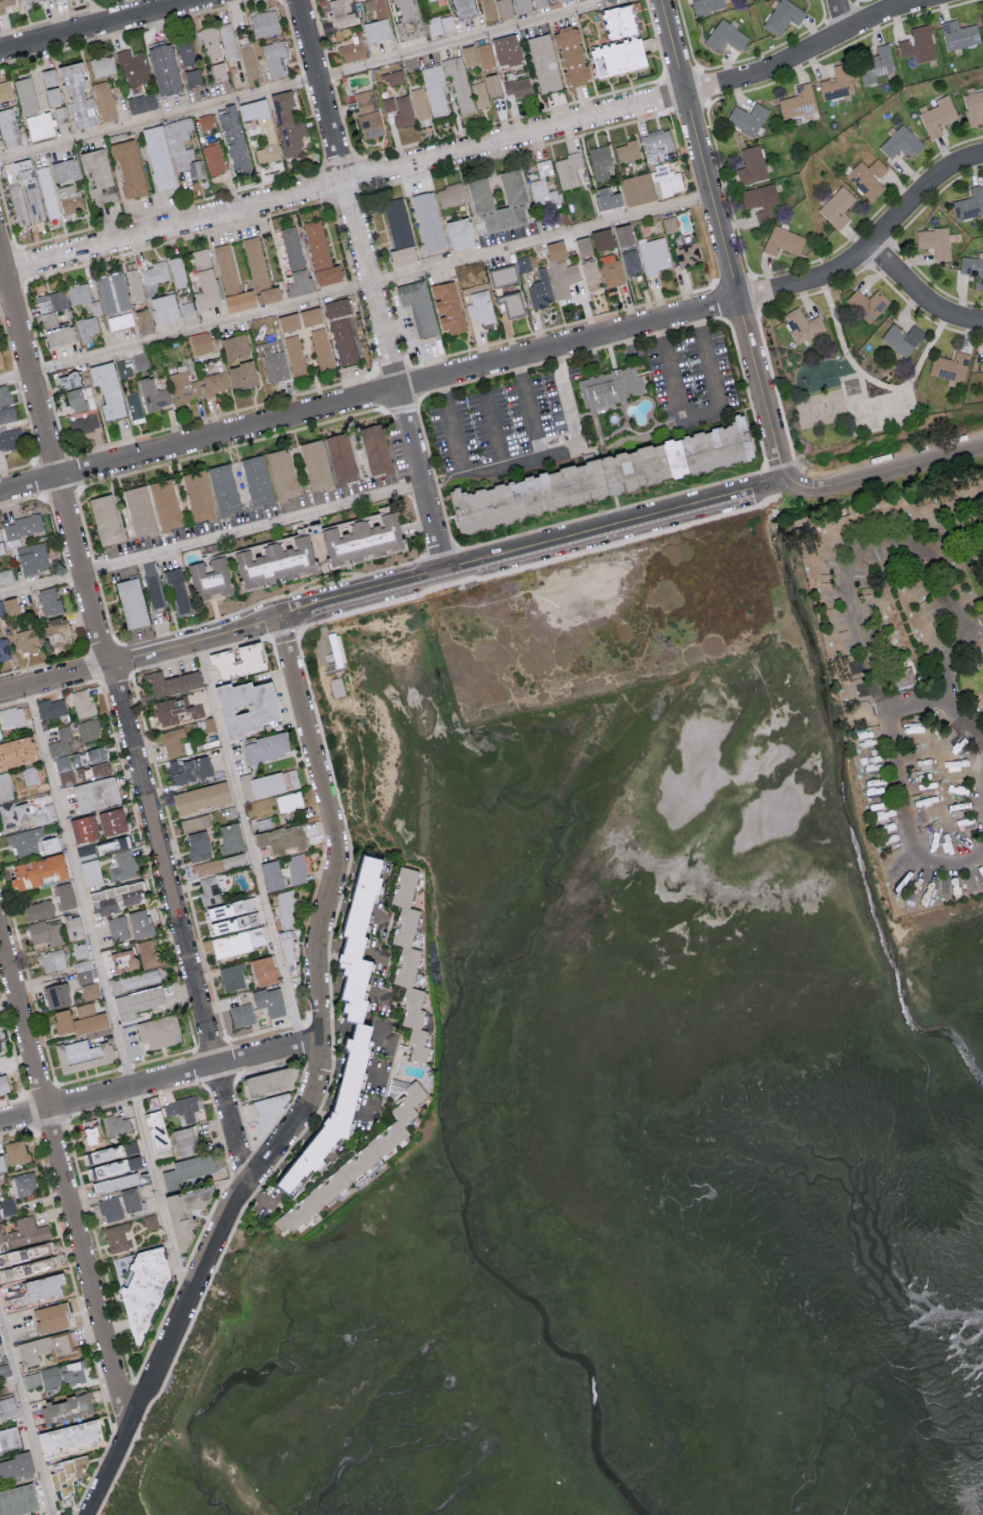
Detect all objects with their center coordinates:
building: (429, 0)
building: (558, 0)
building: (31, 2)
building: (540, 3)
building: (6, 4)
building: (519, 6)
building: (706, 6)
building: (376, 7)
building: (463, 8)
building: (488, 8)
building: (503, 9)
building: (339, 12)
road: (841, 15)
building: (784, 16)
building: (407, 19)
building: (619, 20)
building: (446, 22)
building: (264, 23)
road: (99, 25)
building: (434, 25)
building: (375, 30)
building: (959, 34)
building: (724, 36)
building: (228, 41)
building: (209, 42)
building: (918, 44)
building: (506, 50)
building: (183, 52)
building: (468, 55)
building: (620, 55)
building: (485, 56)
building: (570, 56)
building: (273, 57)
building: (543, 62)
building: (249, 63)
building: (875, 64)
building: (103, 65)
building: (598, 65)
building: (132, 67)
building: (163, 69)
building: (217, 71)
building: (394, 77)
road: (307, 81)
building: (837, 83)
building: (460, 84)
building: (492, 85)
building: (50, 87)
building: (517, 87)
building: (5, 90)
building: (435, 90)
building: (75, 93)
building: (479, 94)
building: (25, 95)
building: (105, 100)
building: (363, 101)
building: (798, 102)
building: (141, 103)
building: (420, 103)
building: (974, 107)
building: (399, 109)
building: (61, 114)
building: (938, 115)
building: (746, 118)
building: (206, 121)
building: (288, 123)
building: (368, 124)
building: (39, 126)
building: (7, 128)
building: (261, 128)
building: (233, 141)
building: (656, 142)
building: (901, 142)
building: (183, 148)
road: (471, 149)
building: (627, 151)
building: (158, 157)
building: (213, 158)
building: (599, 161)
building: (751, 165)
building: (128, 167)
building: (64, 170)
building: (568, 170)
building: (98, 175)
building: (867, 177)
building: (666, 179)
building: (542, 186)
building: (637, 189)
building: (48, 191)
building: (513, 193)
building: (25, 194)
building: (450, 194)
building: (70, 198)
building: (606, 198)
building: (760, 200)
building: (970, 203)
building: (837, 206)
building: (427, 221)
building: (669, 223)
building: (399, 232)
building: (459, 233)
building: (623, 235)
building: (601, 239)
road: (722, 239)
building: (783, 241)
building: (935, 241)
building: (582, 245)
building: (320, 254)
building: (687, 254)
building: (654, 255)
building: (295, 261)
building: (631, 262)
building: (523, 263)
building: (973, 269)
building: (561, 270)
building: (611, 270)
building: (177, 271)
building: (155, 272)
building: (259, 272)
building: (502, 275)
building: (590, 275)
building: (204, 279)
building: (231, 280)
road: (370, 283)
building: (134, 285)
road: (355, 288)
building: (541, 289)
building: (113, 292)
building: (78, 293)
road: (920, 297)
building: (509, 303)
building: (867, 304)
building: (417, 307)
building: (447, 307)
building: (480, 307)
building: (164, 308)
road: (834, 315)
building: (310, 316)
building: (53, 318)
building: (120, 321)
building: (143, 321)
building: (288, 322)
building: (802, 325)
building: (86, 328)
building: (341, 329)
building: (902, 338)
building: (200, 343)
building: (234, 346)
road: (928, 347)
building: (321, 348)
building: (295, 354)
building: (273, 360)
road: (510, 360)
building: (140, 361)
building: (950, 366)
building: (123, 369)
building: (241, 375)
parking lot: (691, 376)
building: (978, 377)
building: (68, 380)
road: (873, 380)
building: (213, 383)
building: (850, 383)
building: (183, 387)
building: (610, 387)
building: (107, 389)
building: (4, 395)
building: (153, 395)
building: (72, 397)
park: (846, 397)
building: (134, 405)
park: (885, 410)
building: (7, 414)
road: (702, 415)
building: (84, 423)
parking lot: (508, 427)
road: (494, 429)
building: (10, 439)
building: (374, 449)
road: (559, 452)
building: (341, 458)
building: (314, 465)
road: (463, 466)
road: (884, 470)
building: (282, 474)
building: (599, 476)
building: (256, 480)
building: (223, 489)
building: (198, 496)
building: (138, 511)
building: (104, 519)
building: (21, 528)
road: (952, 532)
road: (212, 539)
building: (360, 540)
road: (533, 544)
building: (1, 546)
building: (32, 558)
building: (273, 562)
building: (6, 576)
building: (209, 579)
building: (151, 584)
road: (843, 585)
building: (176, 590)
road: (951, 590)
building: (49, 602)
building: (130, 603)
building: (8, 606)
building: (57, 632)
building: (26, 641)
road: (947, 648)
building: (4, 649)
road: (140, 656)
building: (237, 661)
building: (903, 677)
building: (171, 682)
road: (908, 698)
building: (82, 703)
building: (50, 707)
building: (244, 707)
building: (175, 710)
building: (11, 716)
road: (123, 719)
road: (954, 722)
building: (207, 724)
building: (88, 729)
building: (0, 735)
building: (172, 740)
building: (61, 741)
building: (264, 747)
building: (16, 750)
building: (85, 761)
building: (189, 768)
building: (29, 775)
building: (66, 778)
building: (290, 778)
building: (261, 784)
building: (5, 786)
building: (94, 793)
building: (200, 796)
building: (288, 801)
building: (13, 813)
building: (45, 814)
road: (900, 819)
building: (111, 820)
building: (195, 822)
building: (263, 823)
building: (82, 827)
building: (230, 837)
building: (282, 839)
building: (31, 841)
road: (248, 842)
building: (112, 844)
building: (197, 845)
building: (219, 863)
building: (123, 865)
building: (296, 869)
building: (37, 870)
building: (90, 871)
building: (271, 874)
building: (208, 890)
building: (64, 895)
building: (114, 897)
building: (286, 907)
building: (38, 909)
building: (232, 914)
building: (139, 923)
building: (72, 926)
building: (117, 927)
building: (46, 931)
building: (238, 941)
building: (286, 946)
building: (79, 950)
building: (147, 953)
building: (122, 959)
building: (408, 959)
building: (52, 960)
building: (263, 970)
building: (83, 971)
building: (232, 976)
building: (139, 979)
building: (116, 985)
building: (89, 990)
road: (105, 993)
building: (56, 994)
building: (138, 999)
building: (269, 1000)
building: (241, 1014)
building: (77, 1019)
building: (356, 1022)
building: (157, 1030)
building: (0, 1050)
building: (83, 1055)
road: (160, 1080)
building: (266, 1080)
building: (3, 1083)
road: (317, 1090)
building: (269, 1106)
building: (182, 1107)
building: (116, 1124)
building: (156, 1129)
building: (90, 1134)
building: (184, 1140)
building: (15, 1151)
building: (357, 1159)
building: (1, 1163)
building: (114, 1166)
building: (187, 1169)
road: (64, 1175)
building: (114, 1182)
building: (25, 1183)
road: (259, 1195)
building: (129, 1199)
building: (7, 1206)
building: (110, 1208)
building: (186, 1213)
building: (150, 1221)
building: (27, 1231)
building: (117, 1237)
building: (0, 1238)
building: (28, 1251)
building: (32, 1266)
building: (5, 1273)
building: (41, 1286)
building: (51, 1316)
building: (47, 1347)
building: (4, 1370)
building: (63, 1373)
building: (32, 1379)
building: (67, 1405)
building: (7, 1406)
road: (25, 1416)
building: (66, 1436)
building: (8, 1437)
building: (15, 1465)
building: (66, 1473)
building: (17, 1499)

